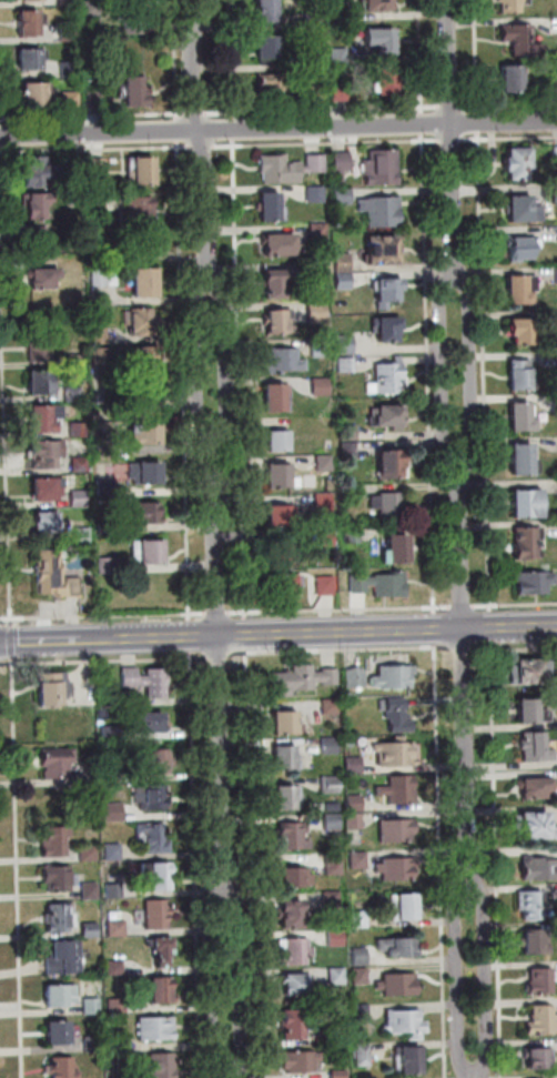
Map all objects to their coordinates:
building: (31, 0)
building: (69, 2)
building: (379, 7)
building: (514, 7)
building: (94, 8)
building: (341, 9)
building: (269, 12)
building: (314, 19)
building: (138, 20)
building: (30, 24)
building: (70, 32)
building: (384, 41)
building: (524, 42)
building: (270, 49)
road: (233, 56)
building: (341, 56)
road: (477, 56)
road: (178, 57)
road: (424, 57)
building: (316, 60)
building: (32, 61)
building: (71, 69)
building: (514, 80)
building: (388, 85)
building: (556, 88)
building: (275, 90)
building: (317, 92)
building: (136, 93)
building: (341, 93)
building: (34, 98)
building: (72, 101)
building: (97, 101)
road: (509, 105)
road: (453, 107)
road: (324, 110)
road: (196, 113)
road: (93, 115)
road: (180, 115)
road: (234, 115)
road: (479, 121)
road: (424, 124)
road: (277, 128)
road: (179, 129)
road: (234, 129)
road: (198, 133)
road: (455, 138)
road: (509, 138)
road: (453, 140)
road: (327, 143)
road: (201, 147)
road: (94, 149)
building: (556, 154)
building: (316, 162)
building: (341, 165)
building: (97, 167)
building: (382, 167)
building: (519, 167)
building: (40, 169)
building: (280, 169)
building: (142, 171)
building: (556, 193)
building: (316, 194)
building: (343, 195)
building: (38, 203)
building: (270, 205)
building: (136, 210)
building: (382, 211)
building: (521, 213)
building: (318, 230)
building: (38, 235)
building: (278, 243)
building: (383, 249)
building: (524, 249)
building: (99, 258)
building: (343, 262)
building: (317, 270)
building: (43, 276)
building: (112, 278)
building: (100, 279)
building: (344, 280)
building: (145, 282)
building: (275, 283)
building: (77, 289)
building: (517, 289)
building: (388, 291)
building: (317, 312)
building: (280, 320)
building: (141, 321)
building: (387, 328)
building: (520, 329)
building: (99, 336)
building: (345, 344)
building: (40, 347)
building: (321, 347)
building: (101, 356)
building: (145, 360)
building: (284, 360)
building: (75, 361)
building: (346, 365)
road: (469, 371)
road: (443, 372)
road: (429, 374)
building: (520, 374)
road: (229, 379)
road: (240, 379)
road: (195, 380)
road: (184, 381)
building: (389, 381)
building: (42, 382)
building: (321, 387)
building: (73, 393)
building: (277, 397)
building: (95, 416)
building: (387, 416)
building: (45, 417)
building: (521, 417)
building: (79, 431)
building: (146, 432)
building: (350, 432)
building: (277, 441)
road: (6, 442)
building: (348, 449)
building: (104, 452)
building: (48, 453)
building: (524, 459)
building: (80, 464)
building: (323, 464)
building: (392, 464)
building: (145, 473)
building: (281, 476)
building: (48, 487)
building: (105, 488)
building: (351, 491)
building: (79, 498)
building: (323, 502)
building: (527, 503)
building: (389, 507)
building: (142, 512)
building: (282, 516)
building: (45, 521)
building: (107, 527)
building: (353, 536)
building: (326, 540)
building: (525, 542)
building: (397, 548)
building: (148, 551)
building: (282, 552)
road: (216, 564)
building: (105, 566)
building: (55, 574)
building: (535, 582)
building: (286, 583)
building: (381, 584)
building: (325, 585)
road: (490, 604)
road: (515, 605)
road: (463, 606)
road: (340, 609)
road: (217, 613)
road: (104, 615)
road: (435, 629)
road: (190, 635)
road: (246, 635)
road: (278, 635)
road: (11, 641)
road: (347, 649)
road: (463, 649)
road: (515, 649)
road: (219, 655)
road: (195, 658)
building: (527, 669)
road: (464, 674)
building: (394, 676)
building: (356, 678)
building: (302, 679)
building: (146, 681)
building: (54, 687)
building: (331, 706)
building: (530, 709)
building: (398, 714)
building: (148, 722)
building: (286, 722)
building: (555, 722)
building: (110, 735)
building: (347, 742)
building: (330, 745)
building: (534, 746)
building: (397, 754)
building: (285, 758)
building: (158, 762)
road: (221, 762)
building: (57, 763)
building: (354, 765)
building: (110, 773)
road: (193, 773)
building: (331, 784)
building: (533, 785)
building: (398, 790)
building: (151, 797)
building: (288, 797)
building: (355, 803)
building: (114, 812)
building: (333, 822)
building: (354, 822)
building: (533, 825)
building: (397, 830)
building: (293, 836)
building: (154, 838)
building: (55, 840)
building: (113, 850)
building: (88, 853)
road: (251, 857)
building: (358, 860)
road: (440, 862)
building: (334, 864)
road: (18, 867)
building: (537, 867)
building: (396, 868)
building: (158, 875)
building: (59, 877)
building: (295, 877)
building: (90, 890)
building: (114, 891)
building: (332, 899)
building: (528, 904)
building: (404, 907)
building: (158, 914)
building: (292, 914)
building: (61, 917)
building: (359, 919)
building: (117, 928)
building: (90, 929)
building: (336, 937)
building: (537, 939)
building: (398, 947)
building: (163, 949)
building: (295, 951)
building: (359, 956)
building: (64, 957)
building: (115, 967)
building: (337, 976)
building: (359, 977)
road: (457, 977)
road: (484, 977)
building: (538, 979)
road: (212, 981)
road: (240, 983)
building: (300, 985)
building: (398, 986)
building: (161, 989)
building: (62, 995)
building: (118, 1006)
building: (92, 1007)
building: (361, 1014)
building: (539, 1018)
building: (405, 1024)
building: (296, 1025)
building: (156, 1029)
building: (59, 1032)
building: (338, 1032)
building: (118, 1044)
building: (92, 1045)
building: (363, 1056)
building: (534, 1057)
building: (409, 1059)
building: (301, 1062)
building: (163, 1066)
building: (63, 1068)
building: (340, 1074)
road: (475, 1075)
road: (229, 1077)

